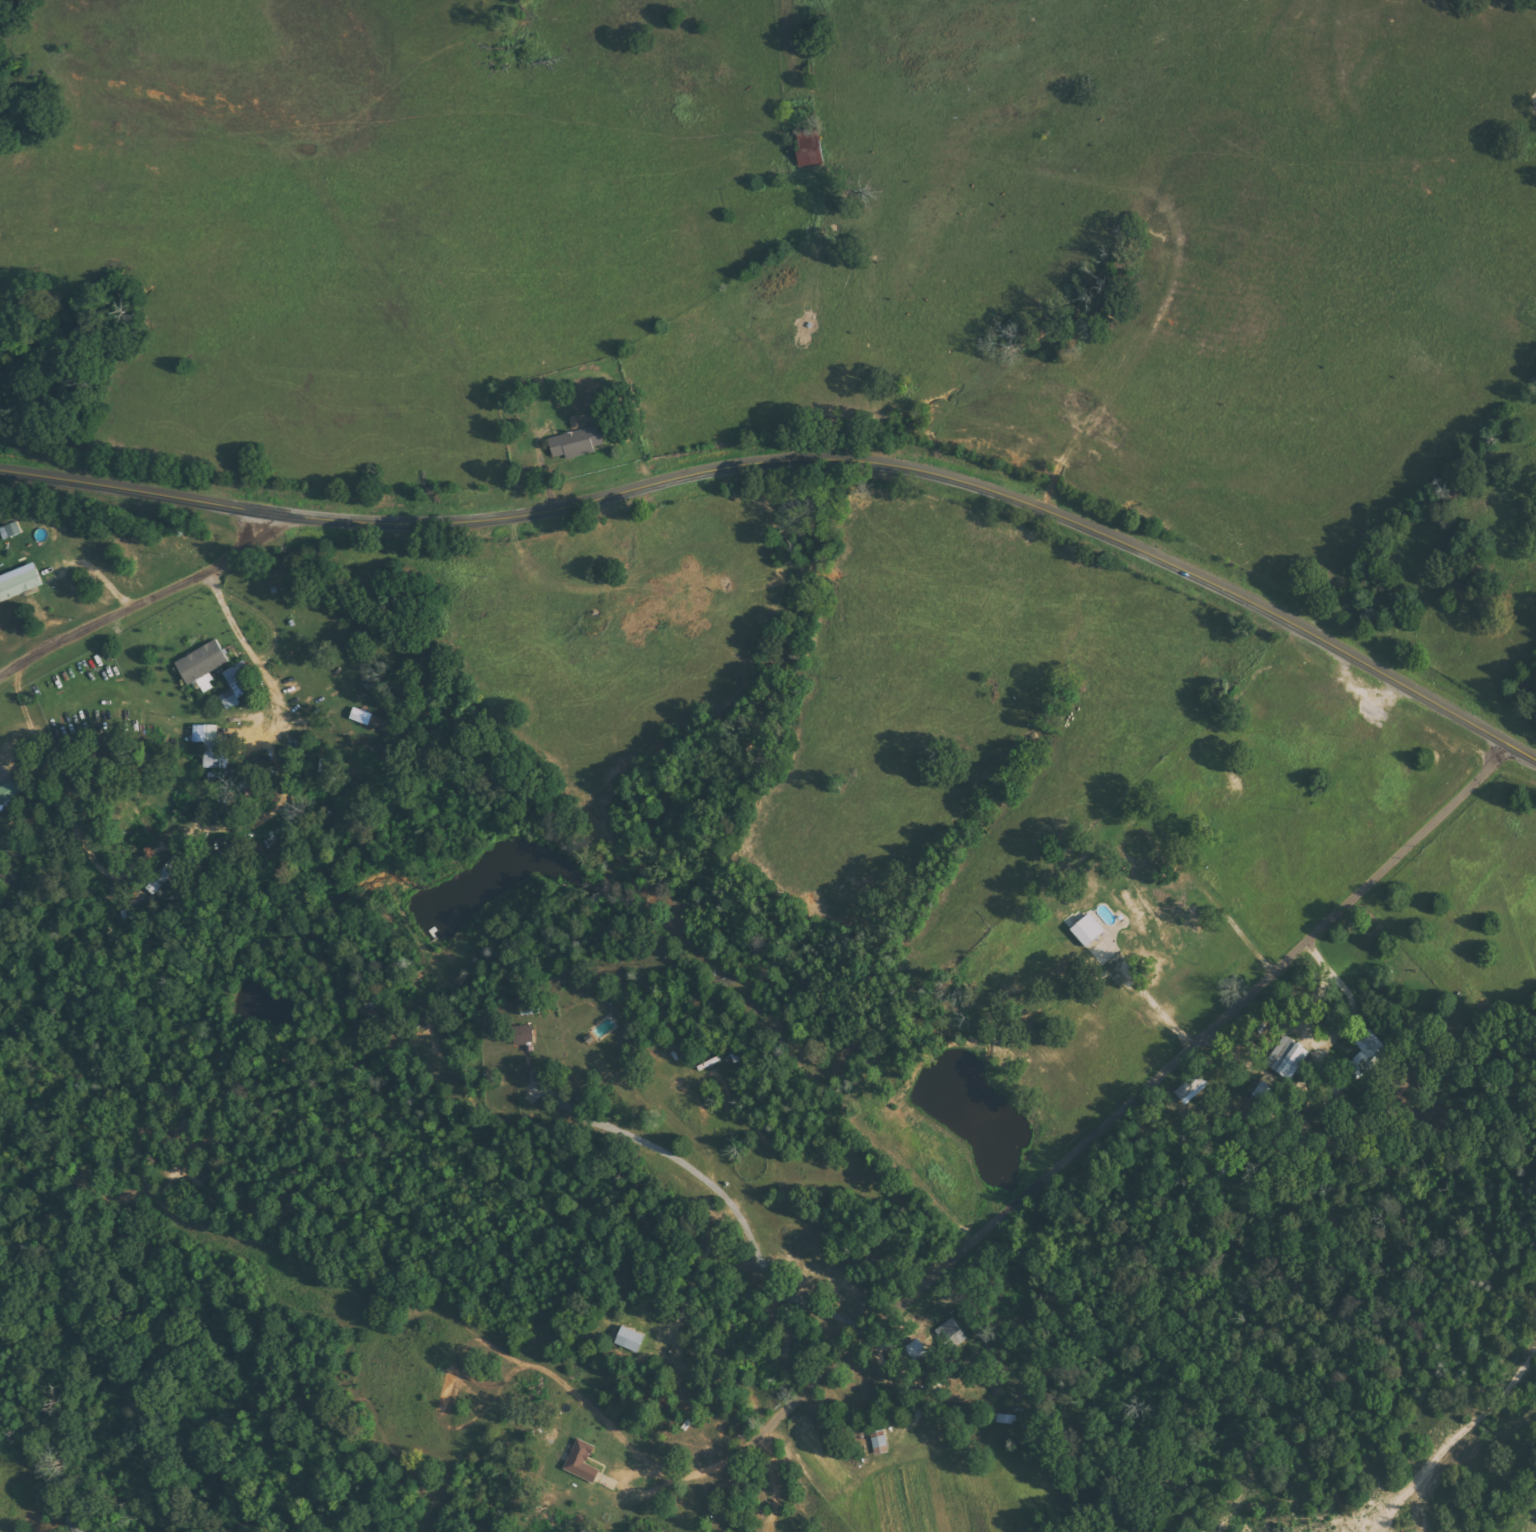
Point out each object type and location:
building: (812, 140)
building: (814, 158)
building: (579, 442)
road: (795, 457)
building: (12, 531)
building: (20, 583)
road: (139, 604)
building: (204, 665)
building: (235, 685)
building: (372, 720)
road: (1163, 721)
building: (9, 794)
road: (1471, 861)
building: (167, 873)
building: (1083, 930)
road: (1216, 986)
road: (1505, 1022)
building: (517, 1035)
building: (1364, 1055)
building: (1285, 1058)
road: (1066, 1085)
building: (1188, 1088)
road: (903, 1123)
building: (948, 1335)
building: (627, 1340)
road: (966, 1375)
building: (876, 1442)
building: (584, 1461)

